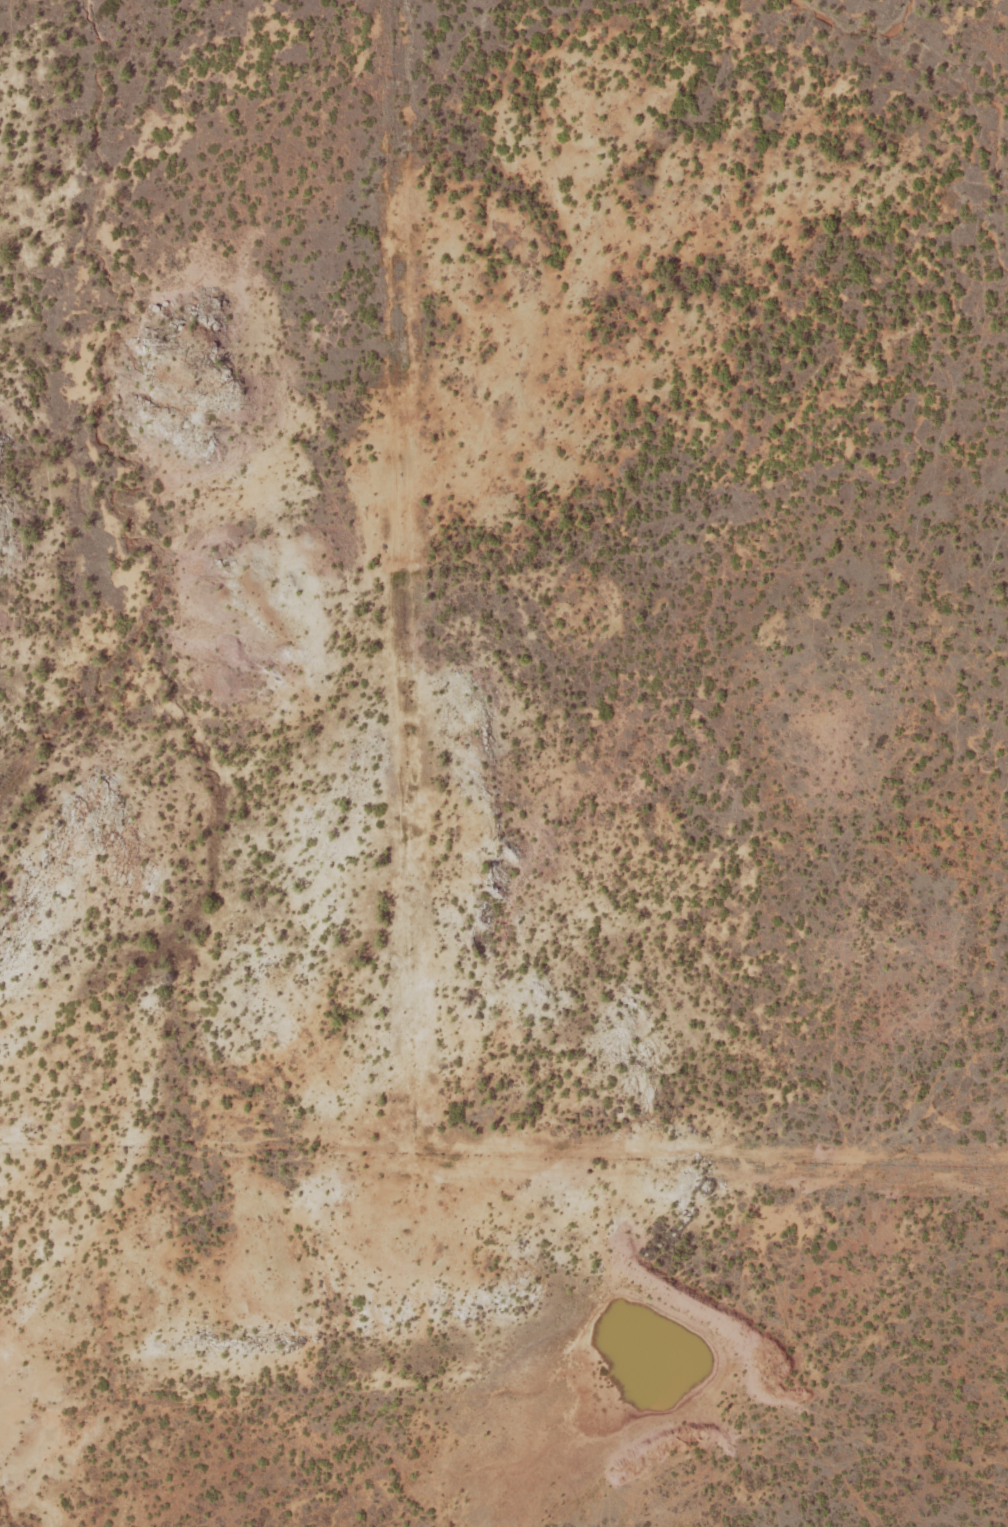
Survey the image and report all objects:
road: (504, 1160)
road: (813, 1438)

